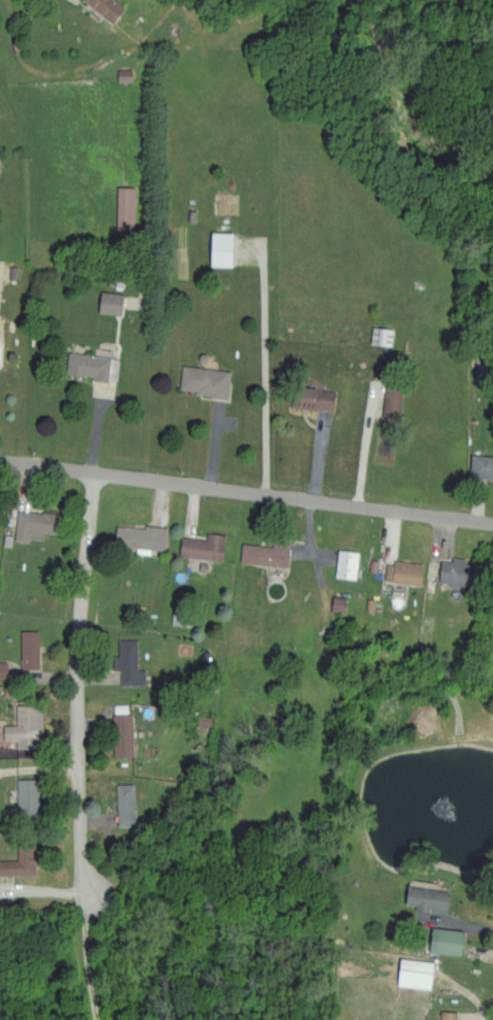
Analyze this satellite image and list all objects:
building: (103, 7)
building: (122, 206)
building: (217, 247)
building: (114, 301)
building: (379, 335)
road: (156, 353)
building: (85, 365)
road: (269, 366)
building: (111, 368)
building: (202, 380)
building: (309, 397)
building: (388, 402)
road: (374, 433)
building: (479, 466)
road: (246, 491)
building: (32, 524)
building: (139, 536)
building: (200, 546)
building: (262, 553)
building: (343, 563)
building: (448, 571)
building: (400, 572)
building: (335, 603)
building: (27, 648)
building: (126, 663)
building: (1, 669)
building: (22, 729)
building: (119, 734)
road: (79, 747)
building: (23, 796)
building: (122, 804)
building: (18, 862)
building: (423, 897)
building: (441, 940)
building: (410, 973)
building: (445, 1015)

